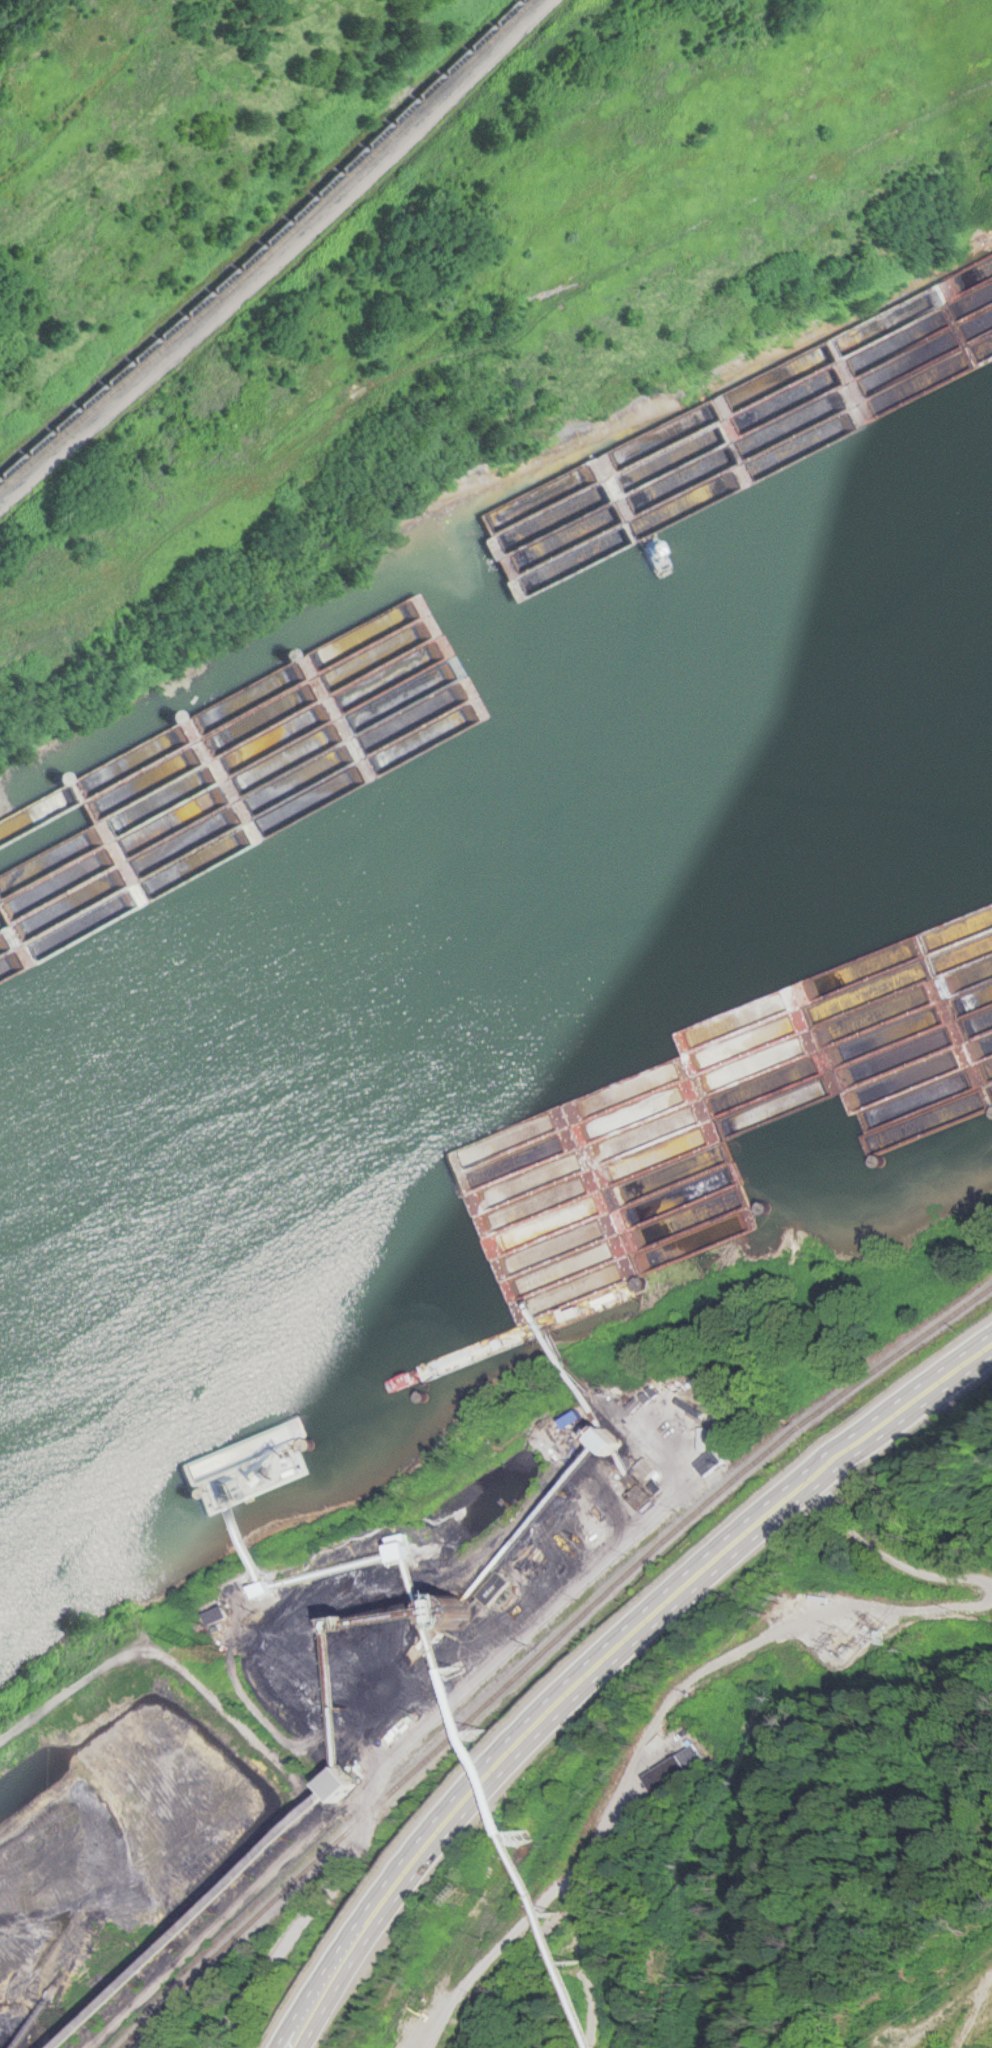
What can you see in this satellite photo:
railway: (270, 251)
building: (55, 857)
building: (922, 977)
river: (491, 987)
building: (677, 1140)
building: (578, 1421)
building: (705, 1441)
building: (628, 1444)
building: (713, 1464)
building: (650, 1471)
railway: (539, 1646)
power tower: (211, 1651)
road: (154, 1658)
road: (603, 1659)
road: (649, 1739)
building: (667, 1774)
building: (360, 1783)
road: (969, 2004)
road: (936, 2020)

